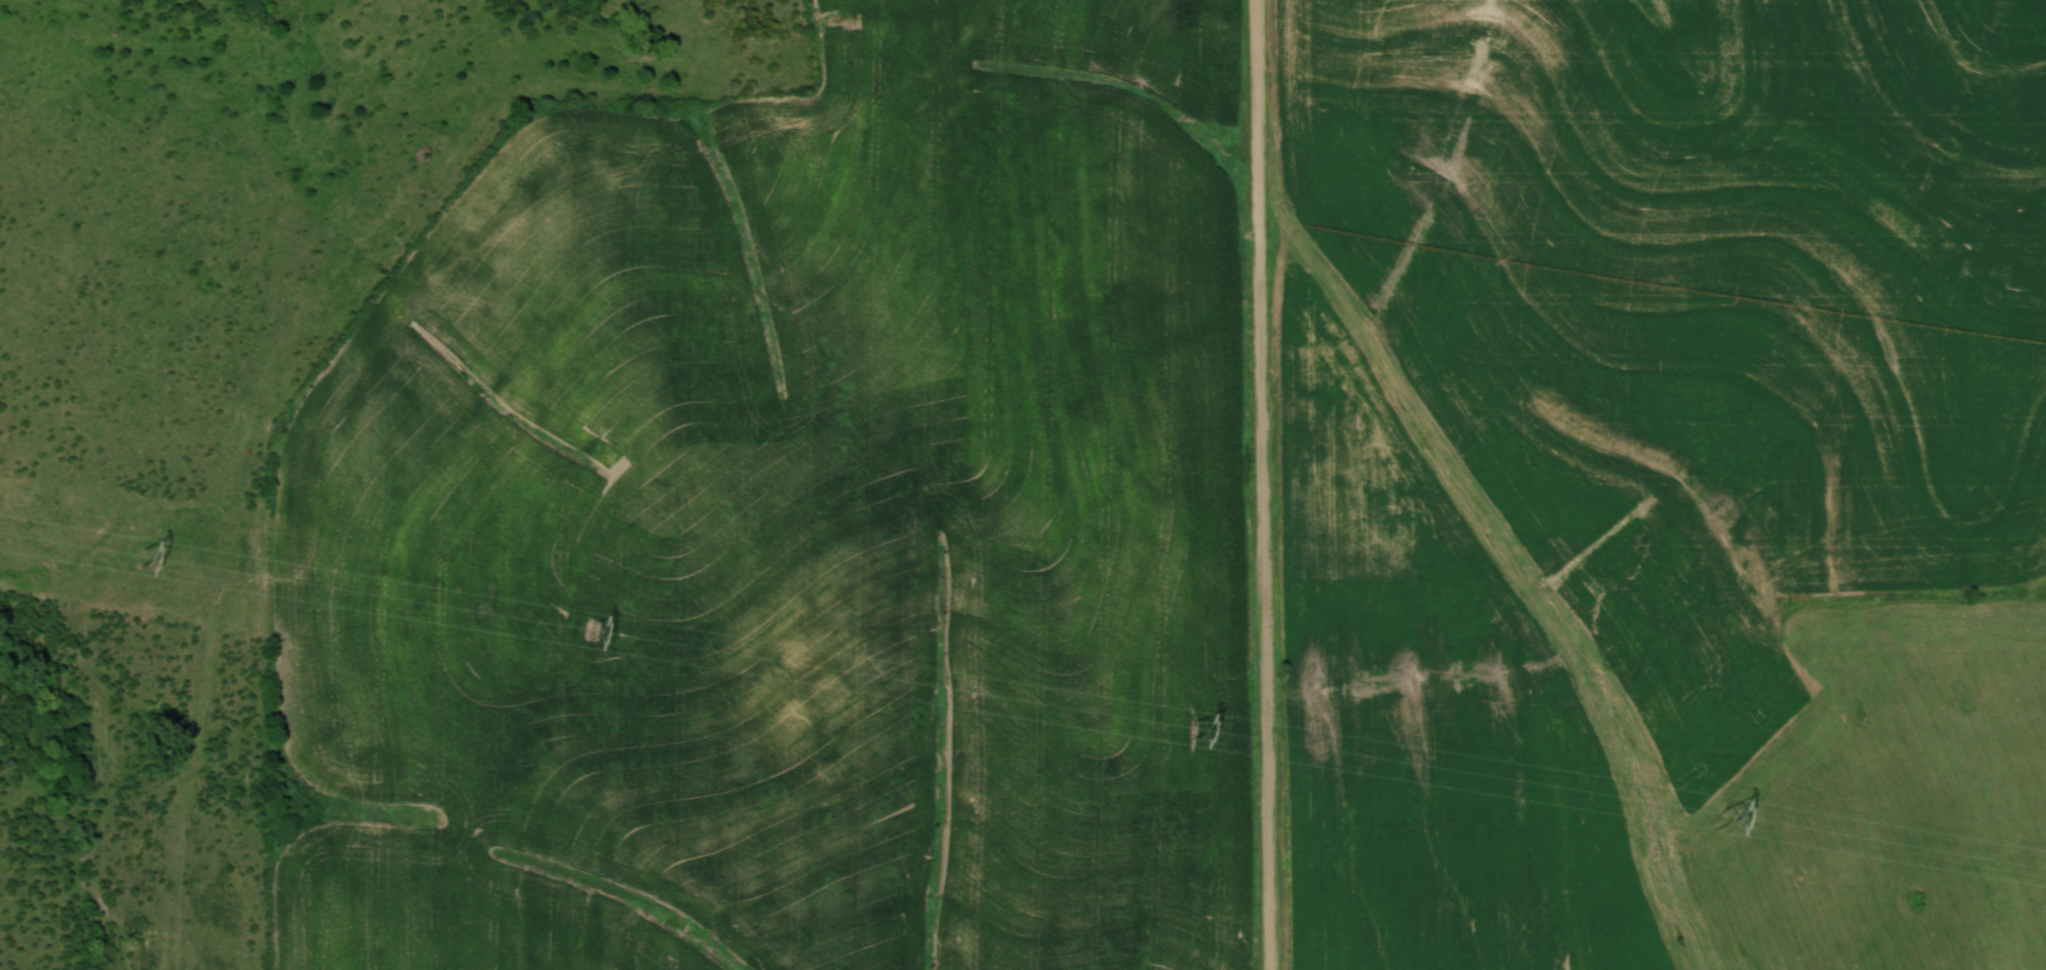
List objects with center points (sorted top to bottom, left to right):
building: (1305, 478)
road: (1262, 485)
power tower: (133, 557)
power tower: (587, 628)
power tower: (1190, 727)
power tower: (1721, 815)

